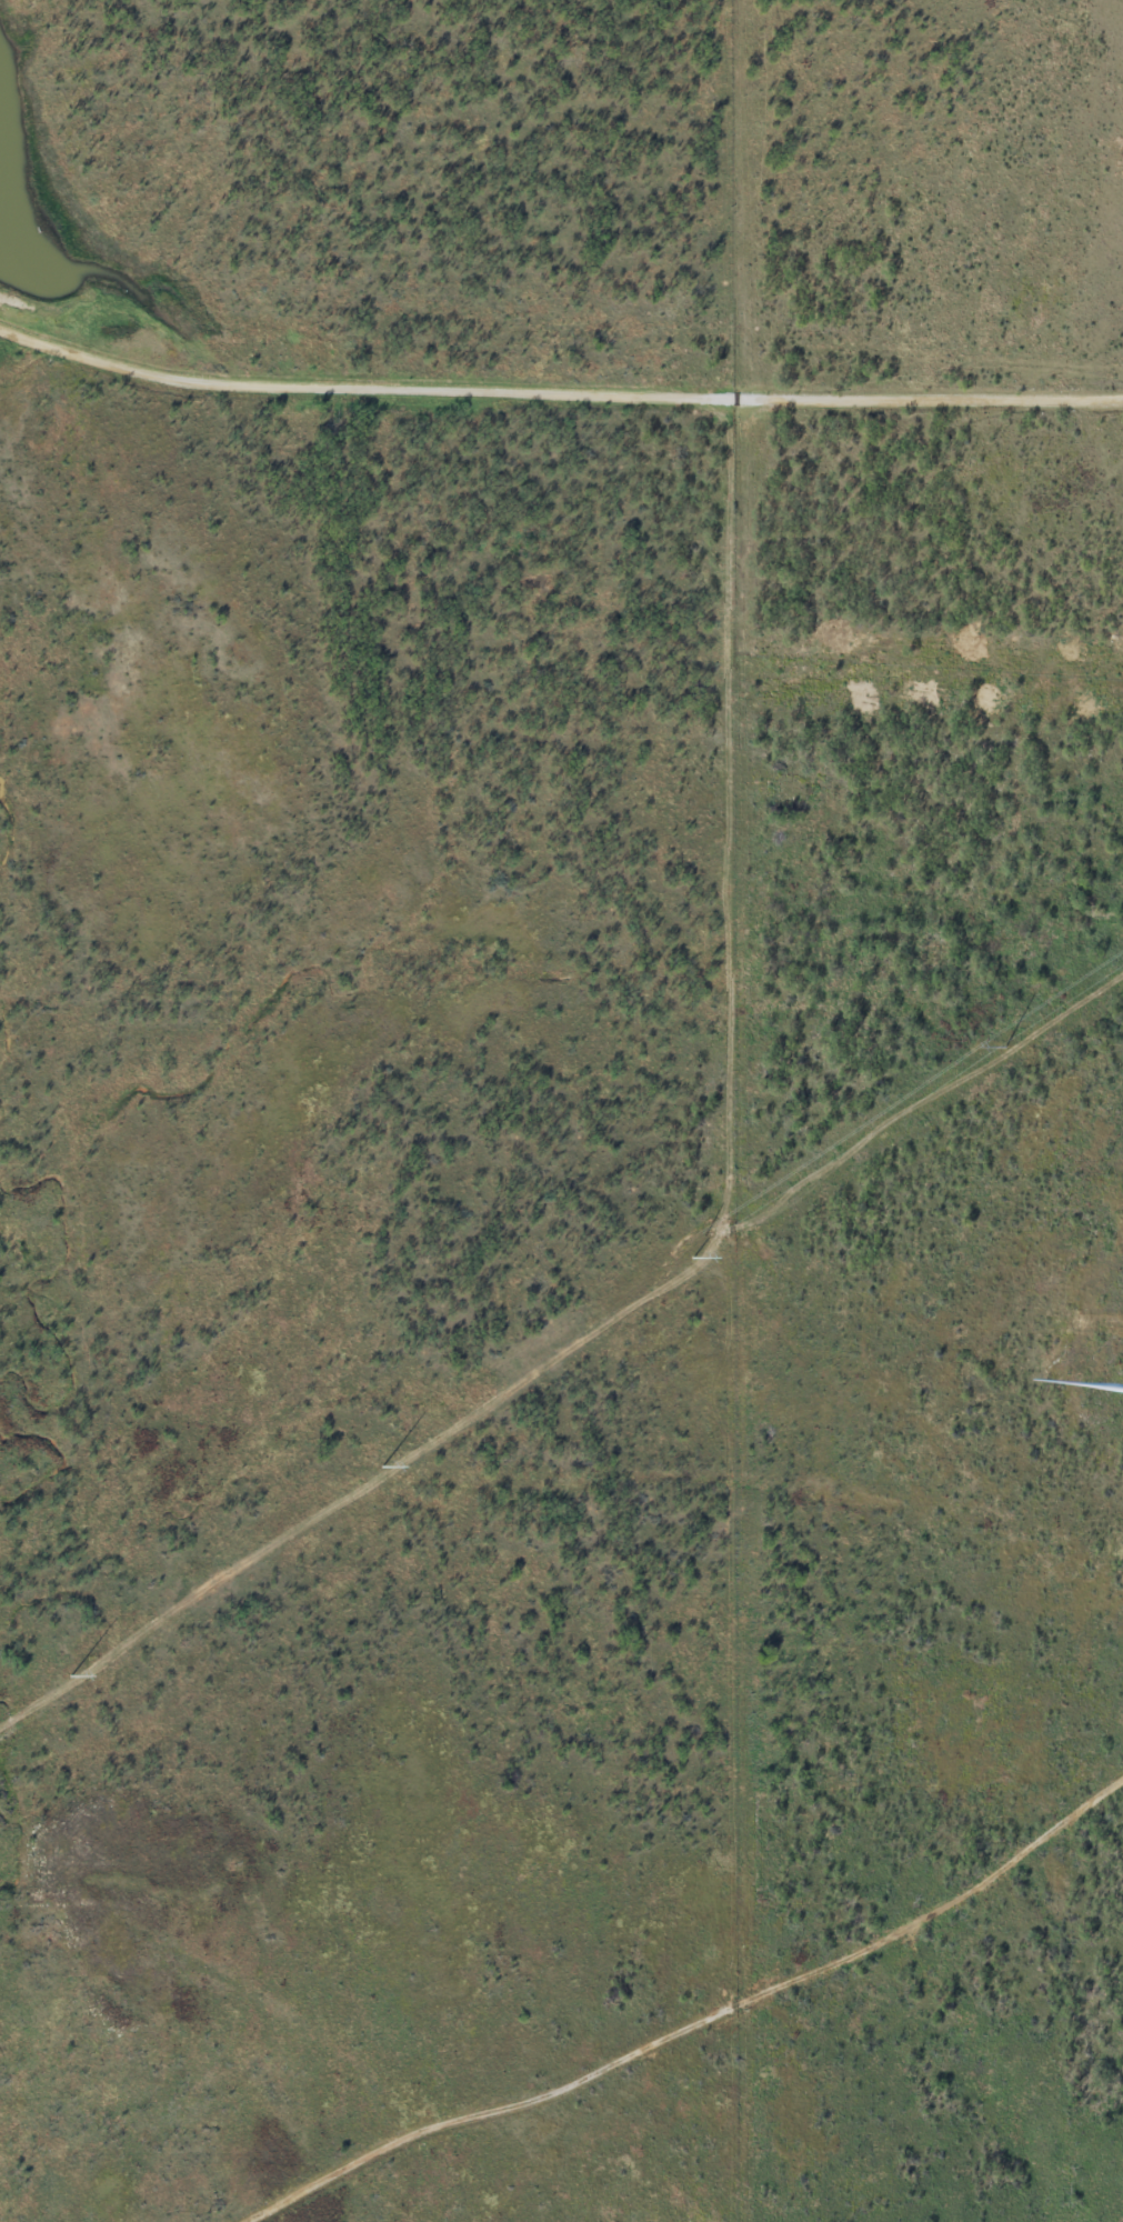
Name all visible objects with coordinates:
road: (554, 428)
road: (736, 2029)

